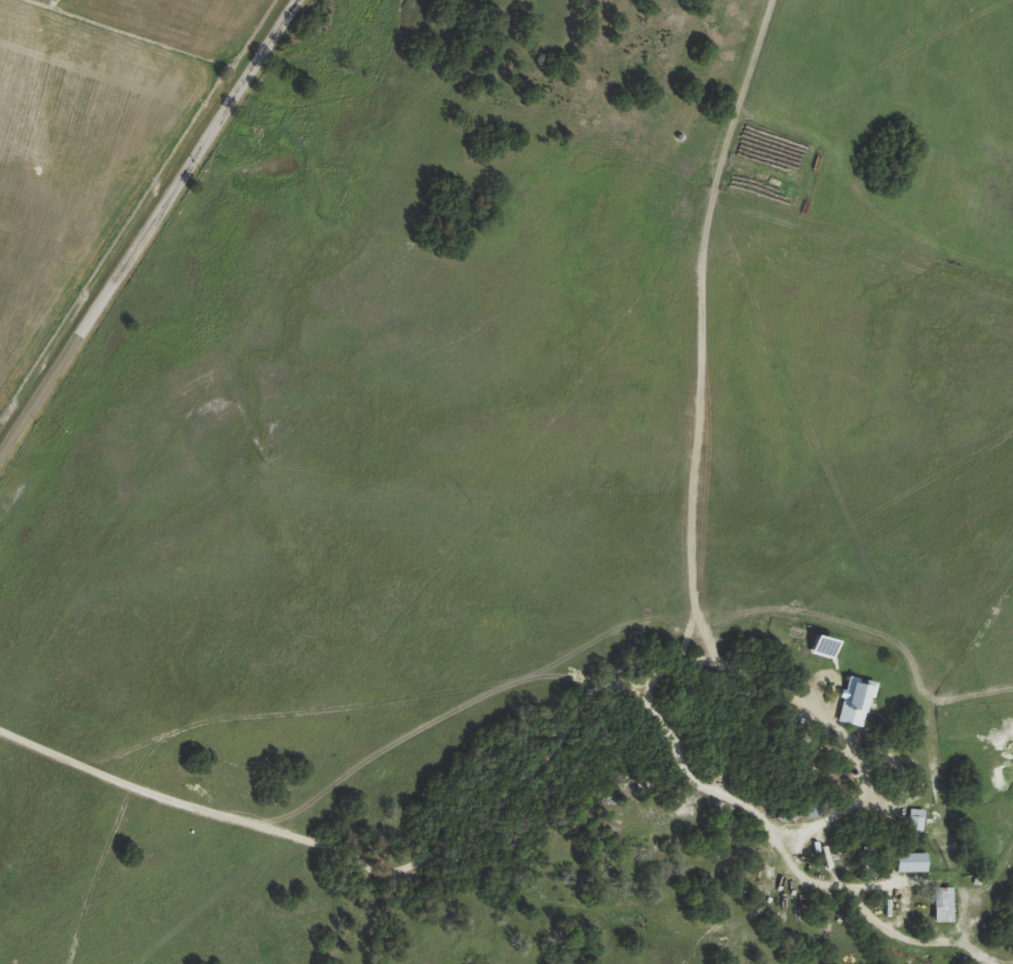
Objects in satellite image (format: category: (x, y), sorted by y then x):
road: (147, 226)
building: (851, 701)
road: (857, 799)
building: (912, 820)
road: (346, 861)
building: (906, 862)
building: (938, 905)

